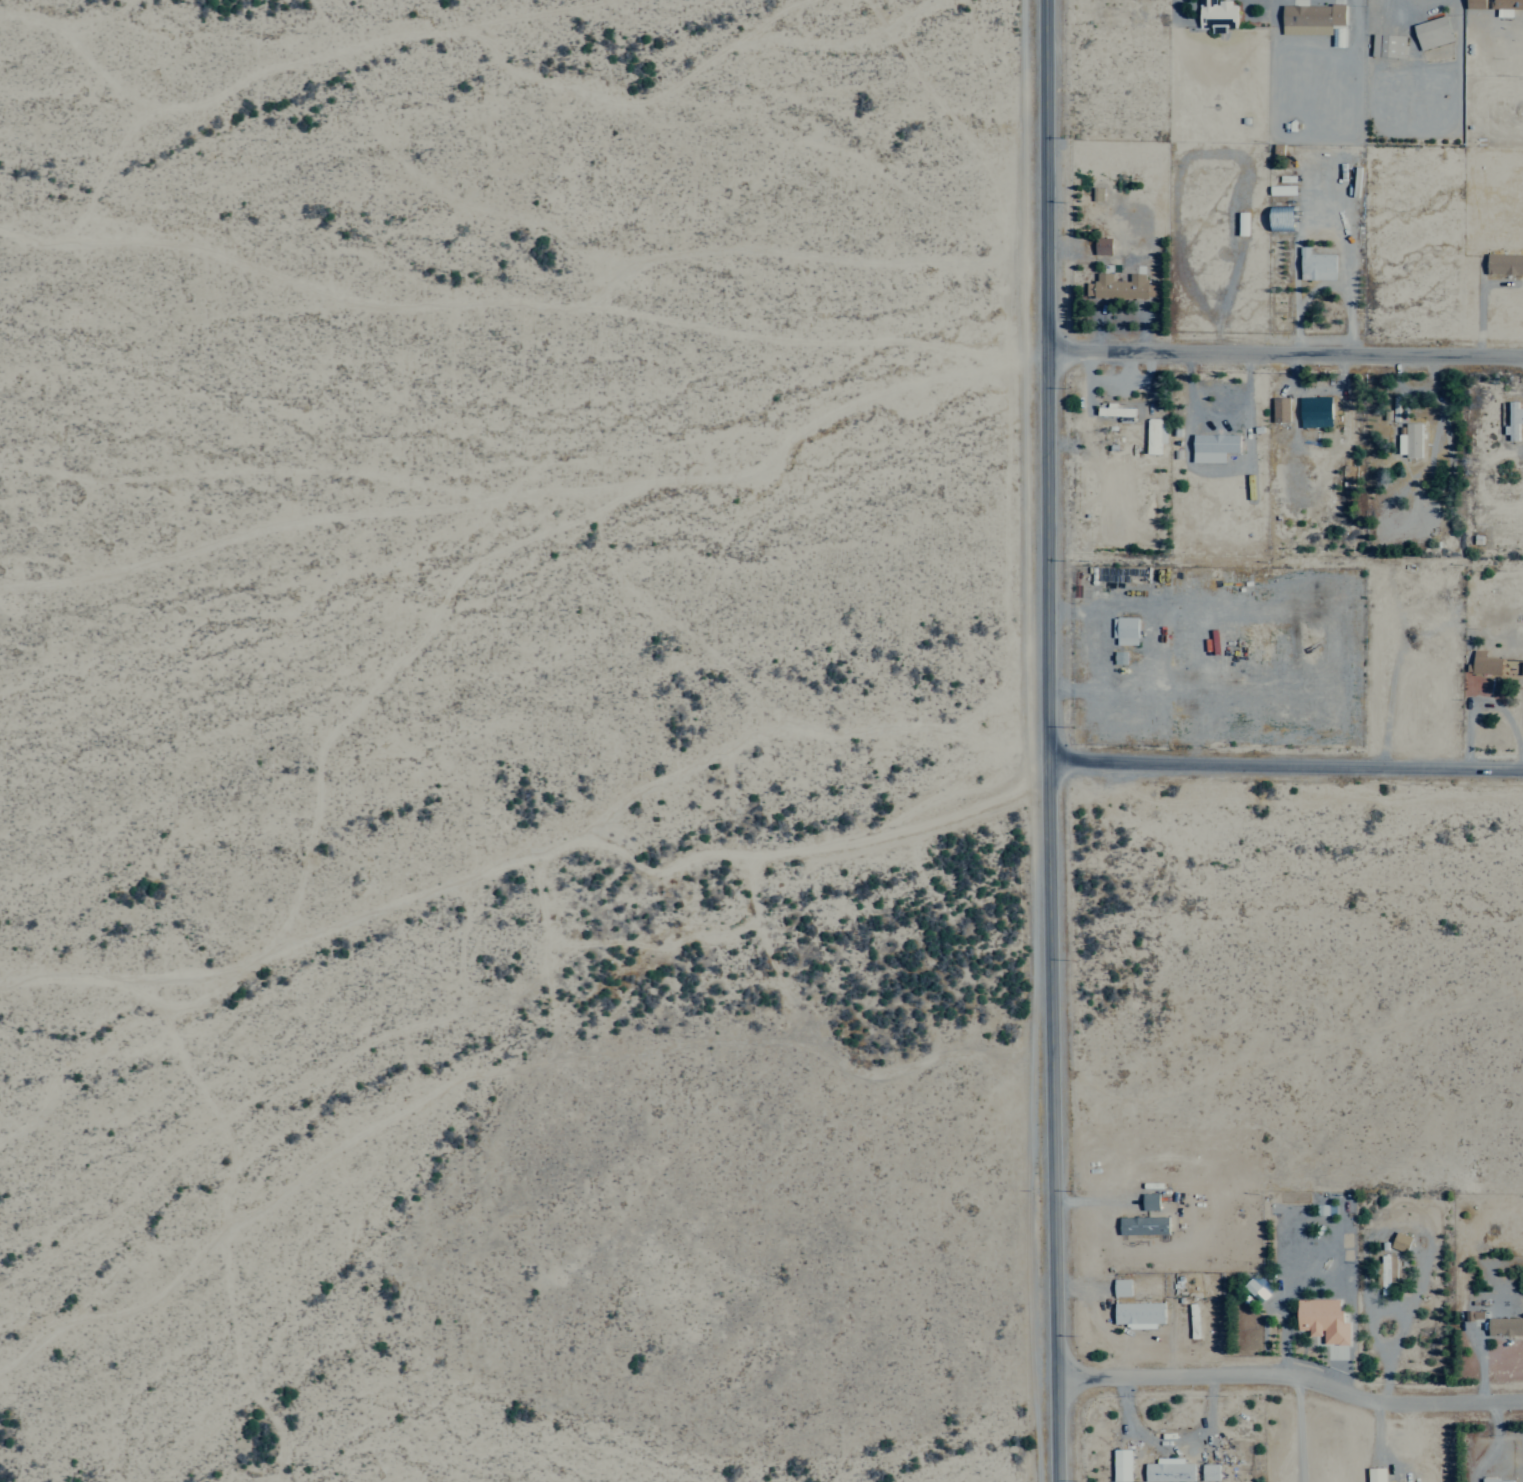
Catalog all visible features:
building: (1473, 3)
building: (1504, 6)
building: (1215, 14)
building: (1309, 18)
building: (1430, 32)
building: (1386, 45)
building: (1280, 189)
building: (1278, 217)
building: (1101, 245)
building: (1503, 264)
building: (1314, 265)
building: (1118, 286)
road: (1283, 348)
building: (1278, 409)
building: (1113, 410)
building: (1313, 411)
building: (1511, 420)
building: (1153, 435)
building: (1410, 439)
building: (1211, 446)
road: (1044, 526)
building: (1124, 630)
building: (1229, 655)
building: (1118, 657)
building: (1483, 663)
building: (1180, 726)
road: (1283, 761)
building: (1147, 1201)
building: (1141, 1225)
building: (1398, 1242)
road: (1052, 1266)
building: (1386, 1273)
building: (1249, 1286)
building: (1120, 1287)
building: (1137, 1314)
building: (1320, 1320)
building: (1502, 1326)
road: (1290, 1372)
building: (1119, 1465)
building: (1167, 1470)
building: (1208, 1472)
building: (1374, 1475)
building: (1494, 1480)

